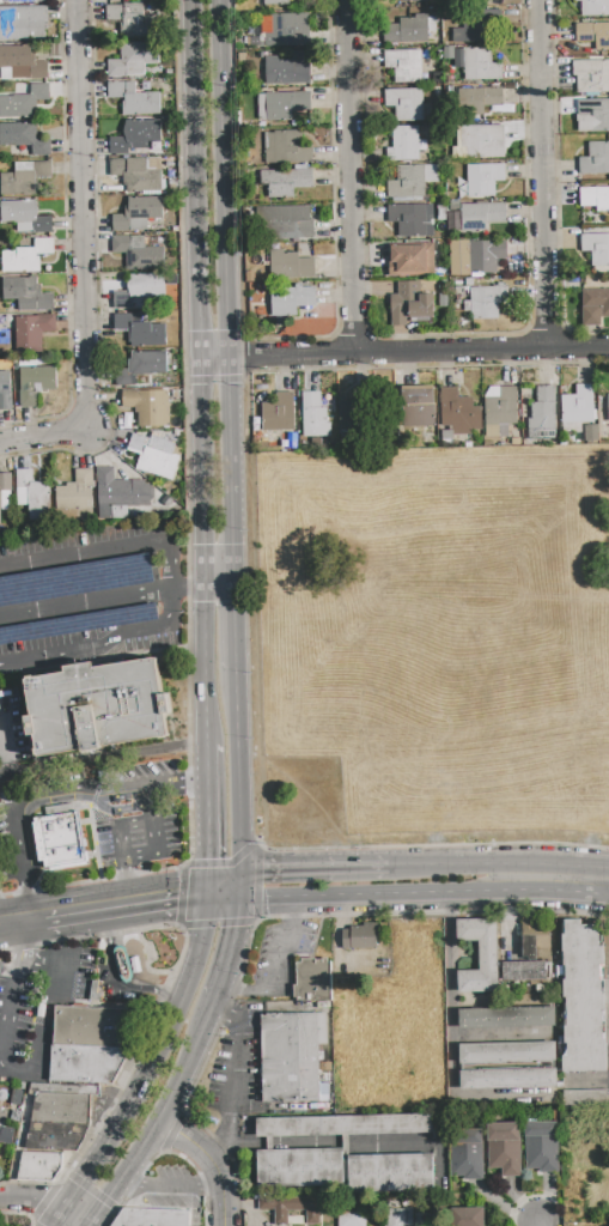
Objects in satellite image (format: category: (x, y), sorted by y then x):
building: (115, 0)
building: (142, 0)
building: (414, 0)
building: (25, 1)
building: (275, 1)
building: (595, 7)
building: (132, 20)
building: (22, 24)
building: (407, 31)
building: (471, 31)
building: (284, 32)
building: (593, 35)
building: (134, 59)
building: (473, 62)
building: (22, 65)
building: (404, 65)
building: (287, 69)
building: (592, 77)
building: (134, 99)
building: (477, 101)
building: (23, 103)
building: (407, 103)
building: (281, 105)
building: (593, 116)
building: (24, 138)
building: (138, 139)
building: (479, 142)
building: (410, 144)
building: (286, 147)
building: (595, 159)
road: (544, 172)
building: (138, 174)
road: (348, 176)
building: (485, 180)
building: (18, 182)
building: (285, 182)
building: (412, 182)
road: (556, 187)
building: (595, 199)
road: (87, 213)
building: (140, 216)
building: (25, 217)
building: (481, 217)
building: (409, 220)
building: (282, 223)
road: (65, 238)
building: (596, 248)
building: (139, 253)
building: (26, 256)
building: (486, 256)
building: (459, 259)
building: (410, 261)
building: (291, 265)
road: (98, 280)
building: (146, 286)
road: (179, 289)
road: (229, 293)
building: (28, 296)
building: (292, 299)
building: (444, 301)
building: (487, 302)
building: (412, 305)
building: (595, 305)
building: (32, 333)
road: (445, 334)
building: (147, 335)
road: (288, 338)
road: (404, 350)
road: (248, 357)
building: (141, 369)
road: (201, 371)
road: (215, 380)
building: (35, 383)
building: (5, 390)
building: (578, 406)
building: (148, 408)
building: (603, 408)
building: (279, 412)
building: (419, 412)
building: (499, 412)
building: (459, 413)
building: (311, 414)
building: (543, 414)
building: (347, 415)
building: (591, 433)
road: (47, 435)
building: (156, 456)
building: (6, 481)
building: (75, 492)
building: (120, 493)
building: (34, 496)
building: (0, 505)
road: (85, 552)
road: (173, 562)
road: (188, 589)
road: (117, 596)
parking lot: (79, 597)
road: (176, 607)
road: (254, 609)
road: (236, 627)
road: (87, 647)
road: (93, 662)
road: (188, 670)
building: (96, 708)
road: (5, 741)
road: (188, 745)
road: (103, 759)
road: (188, 759)
road: (238, 777)
road: (188, 782)
road: (160, 785)
road: (11, 807)
road: (208, 818)
road: (120, 832)
building: (59, 838)
road: (160, 838)
road: (187, 854)
traffic signals: (209, 860)
road: (531, 863)
road: (421, 864)
road: (310, 867)
traffic signals: (262, 869)
road: (122, 875)
road: (72, 884)
road: (129, 888)
road: (226, 890)
road: (542, 890)
road: (24, 891)
road: (7, 894)
traffic signals: (177, 896)
road: (355, 897)
road: (126, 902)
road: (287, 909)
road: (20, 917)
traffic signals: (237, 927)
building: (361, 936)
building: (534, 936)
road: (17, 937)
road: (232, 945)
road: (275, 954)
building: (479, 955)
parking lot: (279, 959)
building: (525, 964)
road: (114, 981)
building: (312, 983)
road: (240, 990)
road: (51, 994)
building: (583, 997)
road: (7, 1002)
building: (506, 1018)
road: (225, 1020)
road: (451, 1032)
building: (89, 1044)
building: (507, 1052)
building: (291, 1056)
road: (157, 1058)
road: (18, 1073)
building: (507, 1079)
road: (590, 1080)
road: (233, 1086)
road: (172, 1094)
building: (585, 1098)
building: (60, 1109)
building: (342, 1125)
building: (6, 1134)
building: (54, 1136)
road: (212, 1147)
building: (541, 1147)
building: (504, 1148)
building: (465, 1153)
road: (212, 1161)
building: (38, 1166)
building: (299, 1167)
building: (390, 1173)
road: (170, 1185)
road: (32, 1200)
road: (105, 1204)
building: (292, 1210)
building: (465, 1216)
road: (60, 1218)
road: (77, 1218)
building: (148, 1218)
building: (370, 1219)
road: (541, 1224)

